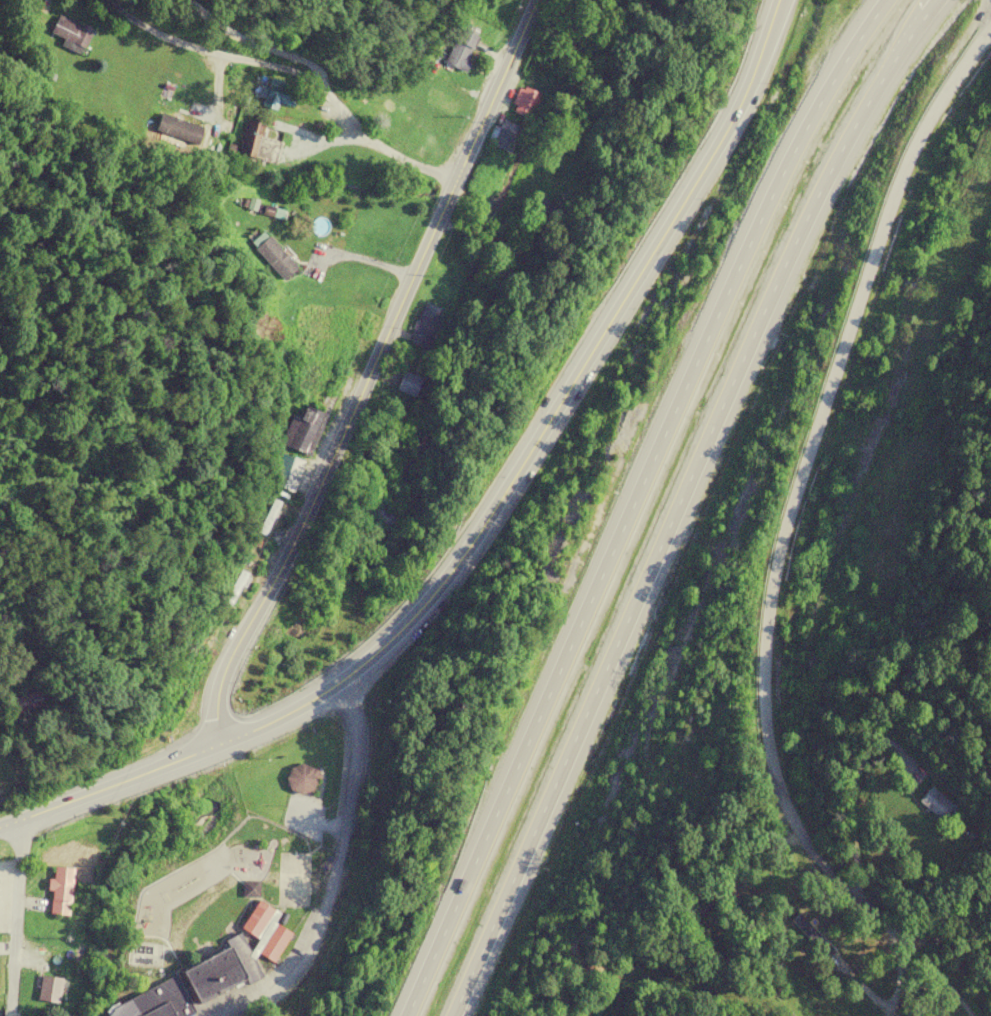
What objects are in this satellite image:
building: (69, 35)
building: (461, 51)
road: (287, 71)
building: (282, 95)
building: (526, 104)
building: (178, 130)
building: (504, 136)
building: (423, 140)
building: (259, 144)
building: (543, 215)
park: (375, 225)
road: (473, 237)
building: (275, 258)
building: (419, 339)
road: (368, 372)
building: (407, 385)
road: (548, 416)
building: (302, 431)
building: (286, 474)
road: (684, 500)
road: (633, 502)
building: (379, 515)
building: (268, 518)
road: (780, 543)
building: (302, 779)
road: (109, 787)
road: (857, 795)
building: (936, 805)
road: (332, 869)
building: (60, 891)
road: (12, 920)
building: (810, 935)
building: (210, 972)
building: (49, 989)

